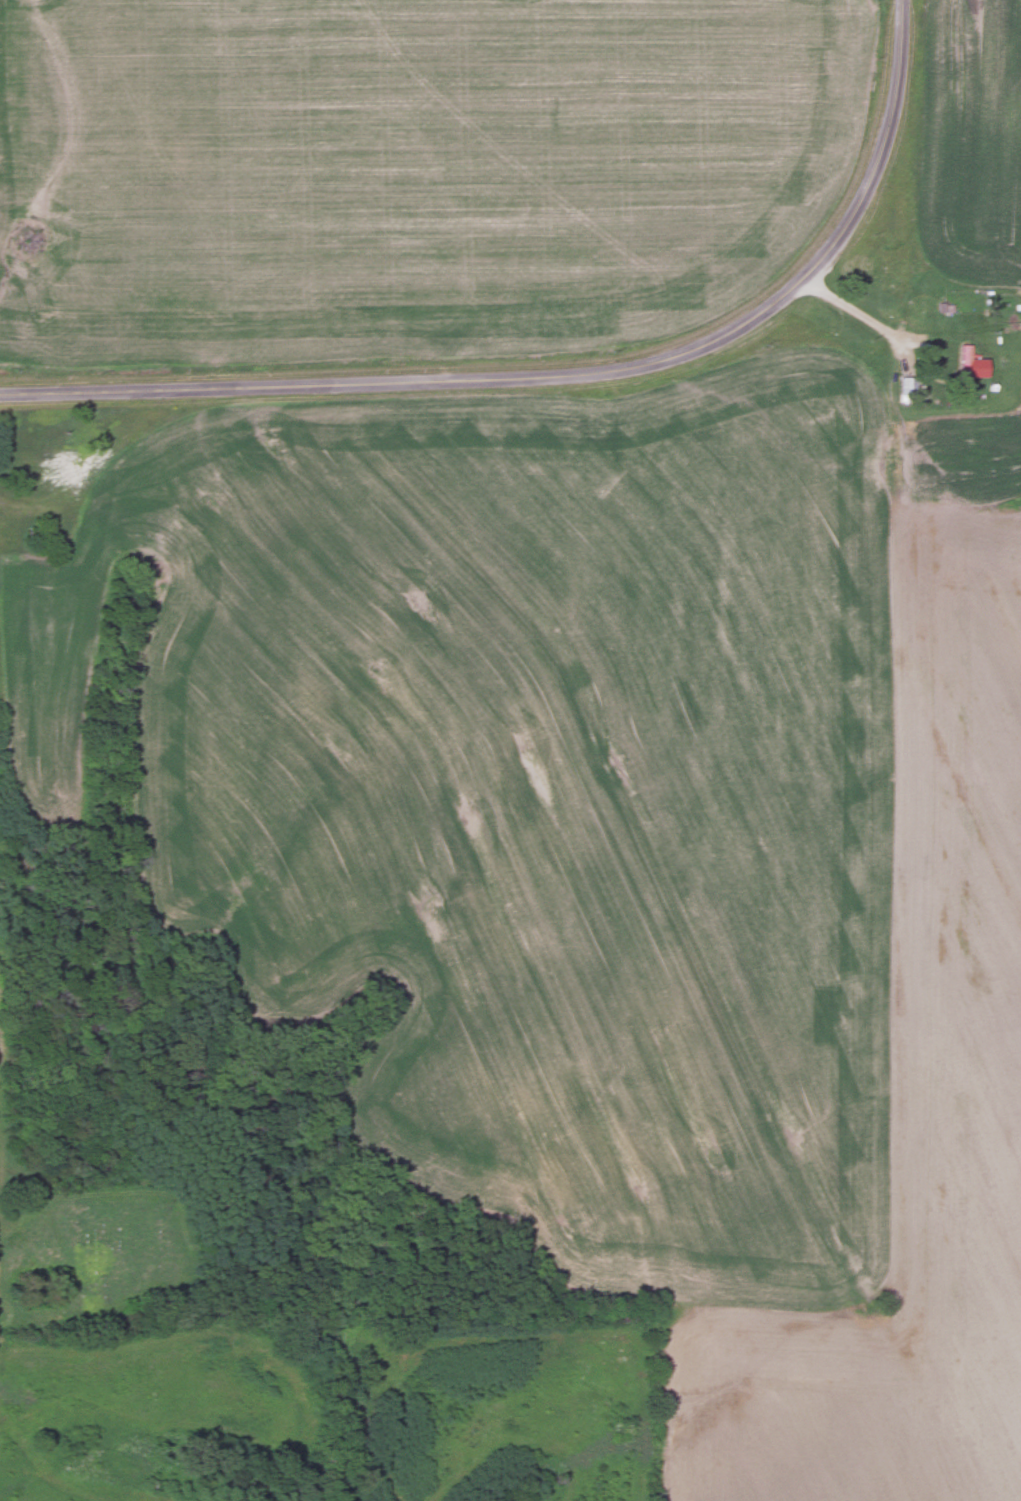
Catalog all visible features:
road: (855, 318)
building: (964, 363)
road: (566, 380)
building: (907, 385)
park: (79, 1244)

